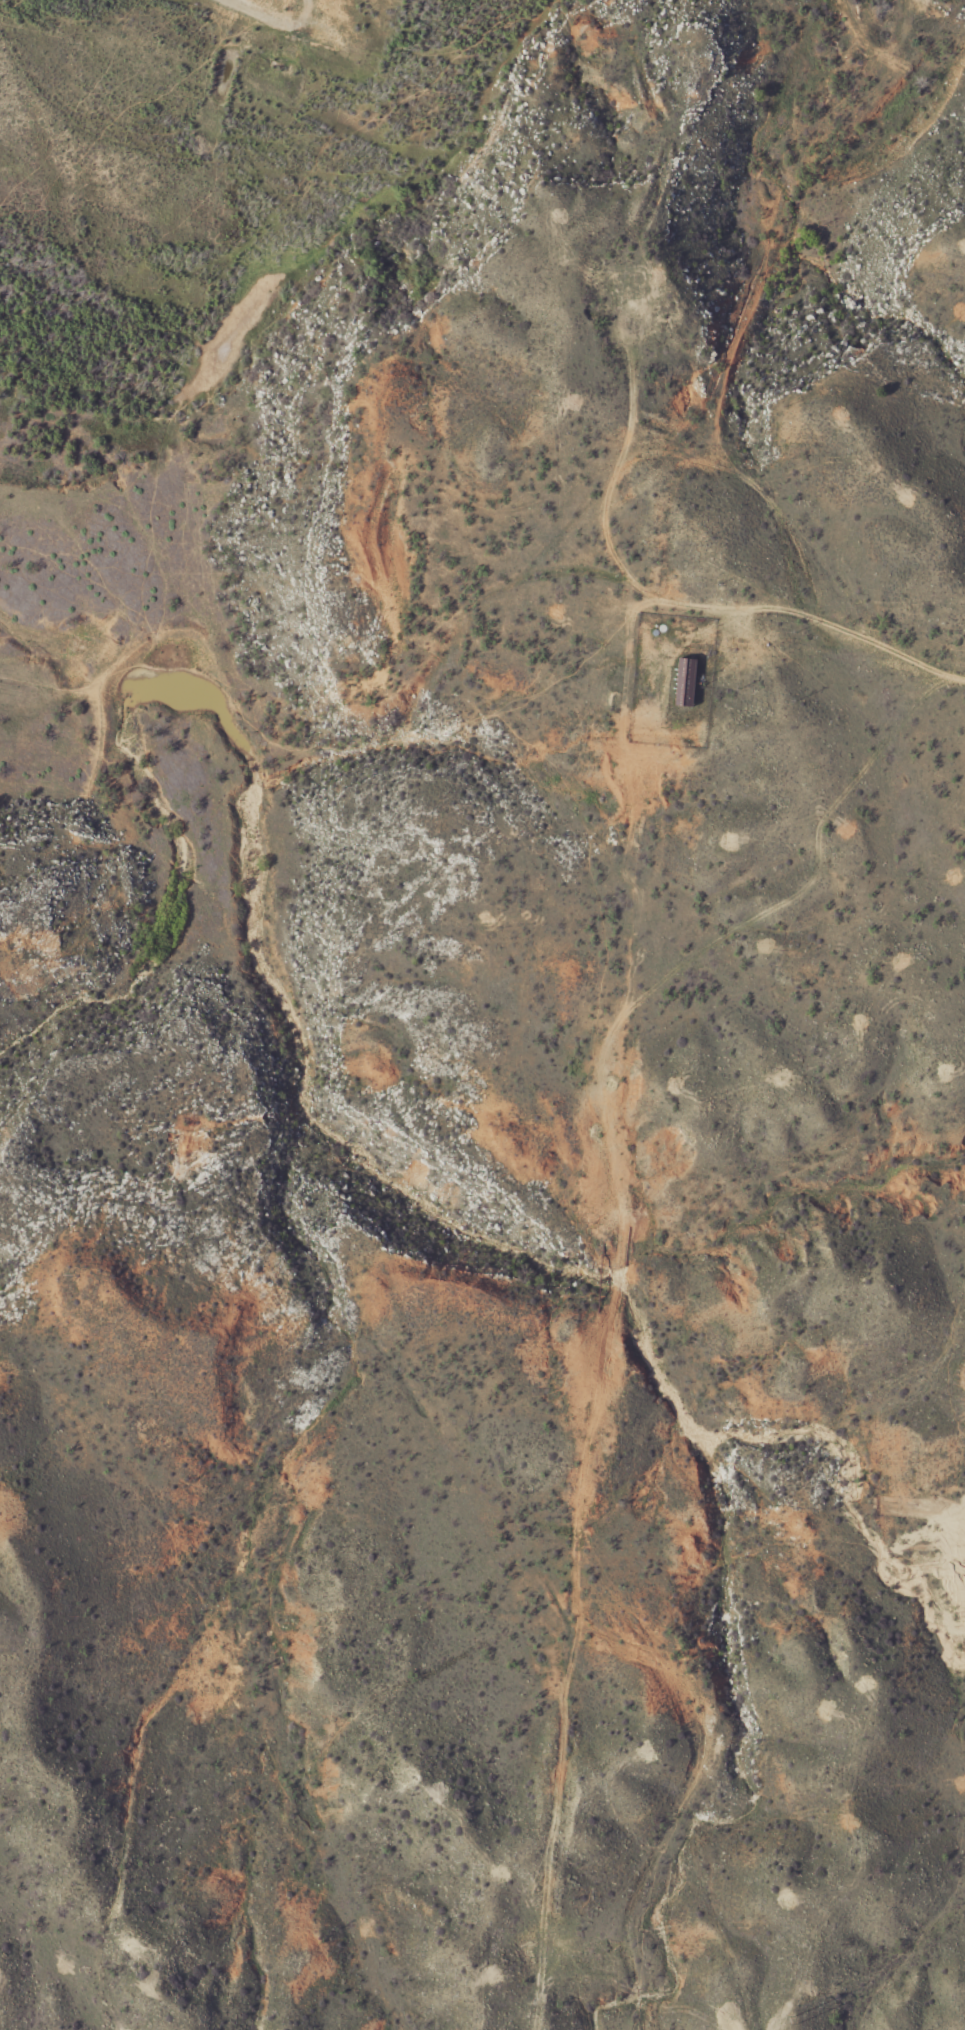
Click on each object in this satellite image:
power tower: (796, 2016)

